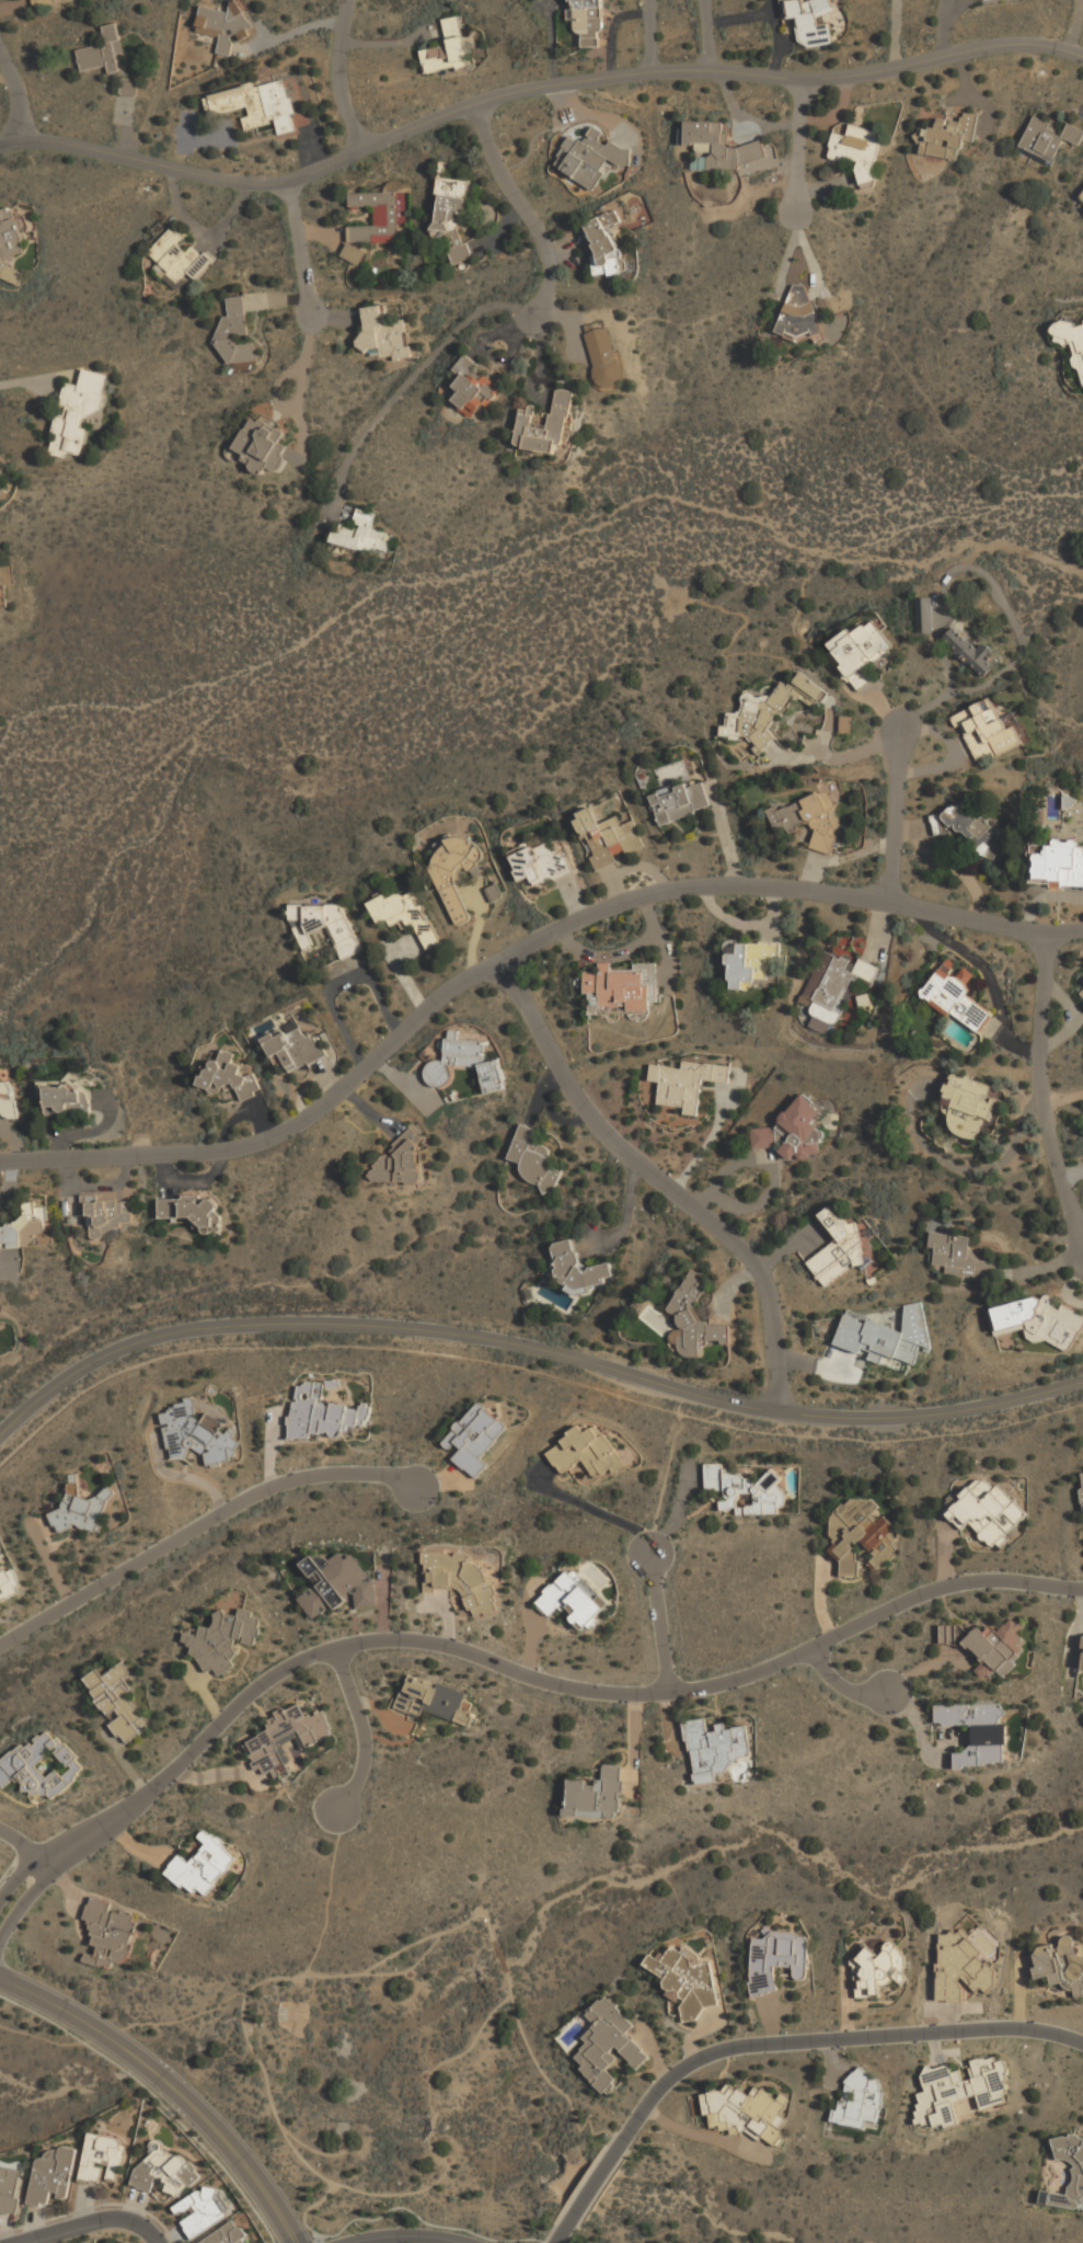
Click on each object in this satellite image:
building: (1017, 0)
building: (41, 1)
building: (811, 21)
building: (587, 22)
building: (220, 25)
road: (711, 34)
road: (650, 35)
building: (447, 48)
building: (102, 49)
road: (342, 73)
road: (530, 88)
road: (18, 94)
building: (257, 104)
building: (947, 136)
building: (1048, 138)
building: (719, 146)
road: (802, 147)
building: (857, 148)
building: (590, 158)
building: (1080, 195)
building: (451, 215)
building: (377, 217)
building: (12, 232)
building: (603, 249)
building: (354, 253)
road: (300, 255)
building: (175, 256)
road: (520, 309)
building: (797, 316)
building: (235, 332)
building: (383, 332)
building: (1070, 334)
road: (307, 352)
building: (603, 357)
road: (24, 381)
building: (472, 388)
building: (78, 412)
building: (544, 424)
building: (261, 444)
building: (358, 534)
building: (2, 594)
building: (924, 614)
building: (860, 646)
building: (970, 652)
building: (771, 709)
building: (987, 730)
building: (680, 801)
road: (896, 815)
building: (809, 820)
building: (972, 828)
building: (607, 836)
building: (541, 862)
building: (1057, 866)
building: (456, 870)
building: (406, 914)
road: (984, 923)
building: (324, 926)
building: (749, 963)
building: (838, 981)
building: (621, 987)
building: (1081, 988)
building: (956, 998)
road: (437, 1007)
building: (295, 1048)
building: (465, 1063)
building: (229, 1076)
building: (687, 1083)
road: (1046, 1088)
building: (970, 1096)
building: (8, 1097)
building: (64, 1097)
building: (793, 1131)
building: (531, 1155)
building: (400, 1161)
road: (637, 1161)
building: (188, 1211)
building: (106, 1216)
building: (28, 1228)
building: (838, 1250)
building: (959, 1255)
building: (578, 1268)
building: (693, 1319)
building: (1036, 1320)
building: (886, 1336)
road: (531, 1348)
road: (529, 1369)
road: (777, 1378)
building: (320, 1412)
building: (196, 1434)
building: (474, 1438)
building: (586, 1451)
road: (667, 1475)
building: (1081, 1485)
building: (745, 1490)
road: (678, 1507)
building: (81, 1508)
road: (590, 1508)
building: (988, 1511)
road: (198, 1526)
building: (862, 1534)
building: (462, 1579)
building: (10, 1584)
building: (336, 1584)
building: (574, 1598)
road: (660, 1614)
building: (222, 1639)
building: (987, 1647)
building: (1082, 1657)
road: (535, 1678)
road: (842, 1685)
building: (433, 1700)
building: (117, 1702)
road: (364, 1730)
building: (978, 1731)
building: (286, 1737)
building: (715, 1748)
building: (42, 1765)
building: (596, 1795)
road: (23, 1844)
road: (18, 1859)
building: (203, 1868)
road: (19, 1875)
road: (23, 1902)
building: (110, 1933)
road: (400, 1950)
building: (777, 1959)
building: (1060, 1965)
building: (872, 1970)
road: (399, 1971)
building: (687, 1979)
road: (58, 2006)
road: (474, 2038)
road: (830, 2039)
building: (608, 2042)
building: (960, 2090)
road: (157, 2096)
road: (269, 2097)
building: (861, 2101)
building: (749, 2112)
road: (434, 2122)
road: (215, 2131)
road: (311, 2149)
building: (104, 2159)
building: (165, 2172)
building: (51, 2176)
building: (1078, 2176)
building: (10, 2190)
road: (364, 2191)
road: (588, 2195)
building: (201, 2211)
road: (66, 2225)
road: (143, 2228)
road: (482, 2236)
road: (406, 2238)

